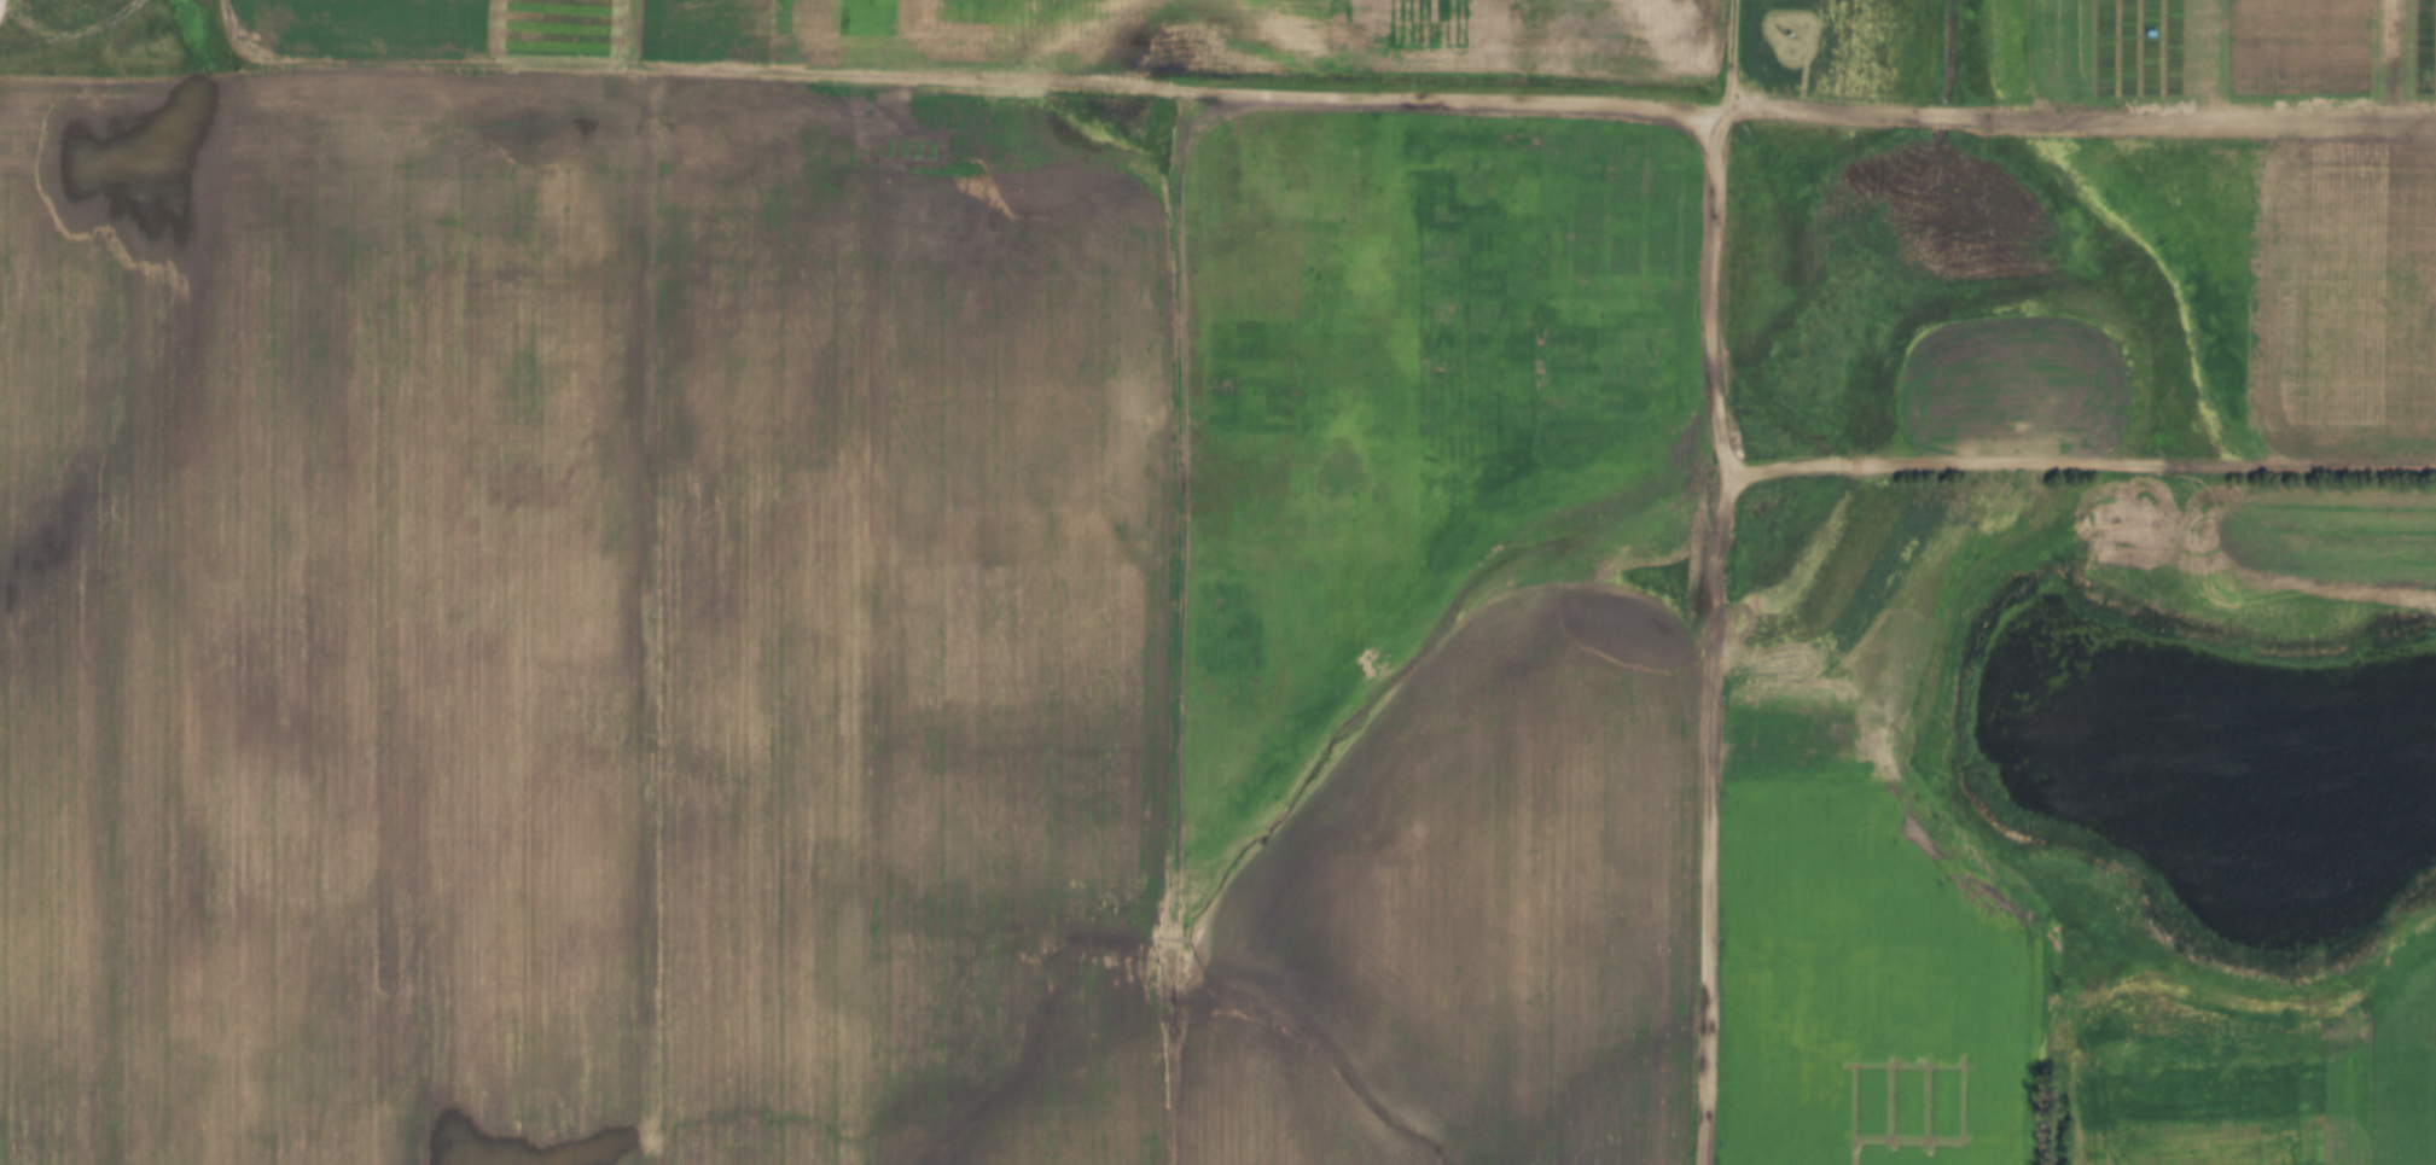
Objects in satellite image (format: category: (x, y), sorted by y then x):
road: (907, 72)
road: (1710, 815)

